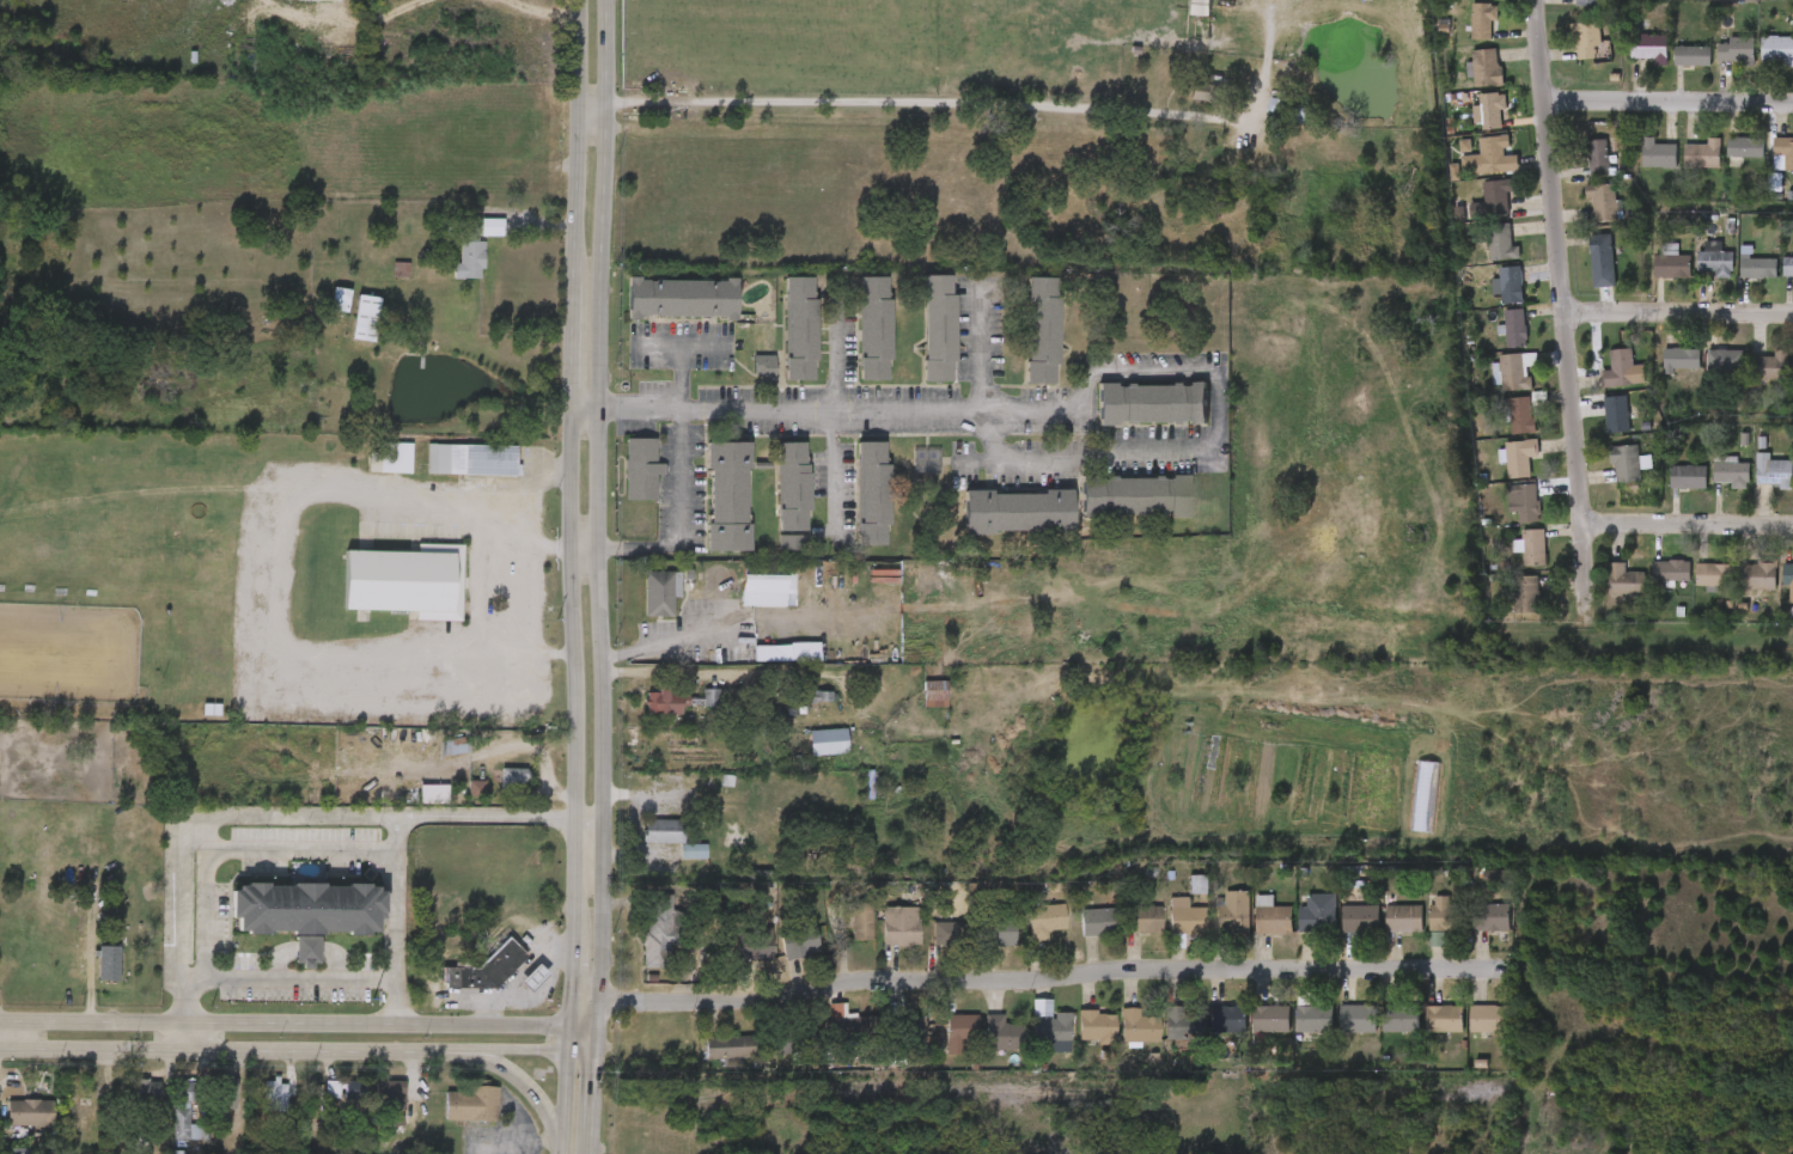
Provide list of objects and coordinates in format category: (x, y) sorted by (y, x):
building: (1586, 2)
building: (1468, 5)
building: (1567, 10)
building: (1177, 17)
building: (1481, 22)
building: (1460, 35)
building: (1585, 39)
building: (1648, 47)
building: (1776, 49)
building: (1734, 50)
building: (1565, 51)
building: (1691, 56)
building: (1629, 61)
building: (1758, 62)
building: (1716, 63)
building: (1486, 68)
building: (1789, 68)
building: (1672, 69)
building: (1464, 81)
road: (587, 102)
road: (922, 102)
road: (1667, 102)
building: (1183, 103)
building: (1490, 111)
building: (1471, 123)
building: (1744, 147)
road: (574, 149)
building: (1783, 151)
building: (1657, 154)
building: (1702, 155)
building: (1489, 158)
building: (1596, 158)
building: (1725, 160)
building: (1770, 165)
building: (1638, 167)
building: (1682, 167)
building: (1470, 170)
building: (1577, 171)
building: (1494, 196)
building: (1600, 202)
building: (1472, 213)
building: (1584, 215)
building: (1500, 242)
building: (474, 244)
building: (1481, 256)
building: (456, 258)
building: (1713, 258)
building: (1600, 260)
building: (1672, 265)
building: (1755, 265)
building: (1787, 267)
building: (1694, 273)
building: (1581, 274)
building: (1652, 280)
building: (1777, 280)
building: (1738, 281)
building: (1510, 285)
building: (339, 298)
building: (1490, 298)
building: (682, 299)
road: (1562, 300)
building: (321, 312)
road: (1678, 312)
building: (365, 316)
building: (800, 328)
building: (938, 328)
building: (1514, 328)
building: (873, 329)
building: (1042, 330)
building: (344, 331)
building: (1493, 341)
building: (780, 342)
building: (854, 342)
building: (917, 342)
building: (1023, 342)
road: (682, 346)
road: (978, 346)
road: (574, 355)
building: (1681, 360)
building: (1725, 364)
building: (763, 365)
building: (1769, 366)
building: (1618, 368)
building: (1514, 371)
building: (1660, 372)
building: (1703, 374)
building: (744, 379)
building: (1750, 380)
building: (1782, 381)
building: (1602, 383)
building: (1493, 384)
building: (1149, 403)
road: (600, 409)
road: (775, 409)
road: (833, 414)
building: (1615, 414)
building: (1520, 415)
road: (1216, 416)
building: (1596, 427)
building: (1500, 428)
building: (395, 457)
building: (1518, 458)
building: (470, 459)
building: (1624, 463)
building: (641, 468)
building: (1499, 470)
building: (371, 471)
building: (1771, 471)
building: (452, 472)
building: (1731, 474)
building: (1606, 476)
building: (1688, 477)
building: (622, 482)
building: (1710, 484)
building: (1754, 484)
building: (1667, 490)
building: (793, 493)
building: (872, 493)
building: (727, 494)
building: (1135, 495)
road: (681, 499)
building: (773, 499)
building: (1526, 502)
building: (852, 505)
building: (708, 508)
building: (1018, 509)
building: (1507, 515)
road: (1689, 521)
building: (167, 545)
building: (1533, 548)
building: (770, 554)
building: (1511, 560)
building: (1670, 569)
building: (1787, 573)
building: (1713, 574)
building: (1757, 576)
building: (1623, 580)
building: (1651, 584)
building: (766, 585)
building: (1693, 587)
building: (1739, 590)
building: (661, 592)
building: (1776, 592)
building: (1603, 593)
building: (386, 594)
building: (1527, 596)
road: (270, 598)
building: (748, 603)
building: (641, 605)
building: (1507, 607)
road: (574, 613)
road: (545, 649)
building: (183, 654)
building: (772, 665)
building: (934, 692)
building: (914, 706)
building: (800, 708)
building: (691, 710)
building: (647, 715)
building: (191, 722)
building: (828, 740)
building: (807, 755)
building: (435, 758)
building: (494, 790)
building: (457, 801)
road: (263, 816)
road: (587, 818)
building: (676, 836)
building: (644, 843)
road: (228, 850)
building: (672, 863)
building: (738, 887)
building: (1177, 897)
building: (307, 906)
building: (1317, 912)
building: (1231, 914)
building: (1446, 914)
building: (1185, 916)
building: (1271, 916)
building: (1490, 916)
building: (1403, 917)
building: (1044, 918)
building: (1144, 918)
building: (1360, 918)
building: (860, 920)
building: (1098, 921)
road: (396, 922)
road: (599, 924)
building: (899, 924)
building: (1212, 926)
building: (1298, 926)
building: (1420, 926)
building: (657, 928)
building: (1165, 929)
building: (1251, 929)
building: (996, 930)
building: (1471, 930)
building: (951, 932)
building: (1123, 932)
building: (1340, 932)
building: (1383, 932)
building: (841, 933)
building: (1025, 934)
building: (1078, 934)
road: (573, 938)
building: (880, 939)
building: (800, 941)
building: (639, 942)
building: (752, 942)
building: (927, 946)
building: (981, 947)
building: (731, 957)
building: (780, 957)
building: (109, 963)
building: (287, 963)
building: (486, 967)
building: (89, 976)
building: (532, 976)
road: (1035, 979)
road: (299, 981)
building: (513, 989)
building: (1358, 1016)
building: (1313, 1018)
building: (1227, 1019)
building: (1270, 1019)
building: (1402, 1019)
building: (1445, 1019)
building: (1488, 1019)
building: (1182, 1024)
building: (1096, 1025)
building: (1139, 1025)
building: (850, 1026)
road: (297, 1027)
building: (911, 1028)
building: (822, 1030)
building: (962, 1030)
building: (1206, 1031)
building: (1250, 1031)
building: (1334, 1031)
building: (1423, 1031)
building: (1464, 1031)
building: (1051, 1032)
building: (1293, 1032)
building: (1382, 1032)
building: (1002, 1033)
building: (1157, 1036)
road: (14, 1039)
building: (1031, 1039)
building: (1077, 1039)
building: (1118, 1039)
building: (792, 1040)
building: (898, 1042)
building: (941, 1044)
building: (728, 1046)
building: (983, 1046)
road: (297, 1056)
building: (709, 1060)
building: (761, 1060)
building: (333, 1089)
building: (355, 1089)
building: (150, 1092)
building: (226, 1093)
road: (590, 1093)
road: (527, 1094)
building: (394, 1095)
building: (128, 1101)
building: (336, 1101)
building: (471, 1104)
building: (209, 1105)
building: (371, 1105)
road: (566, 1105)
building: (30, 1113)
building: (185, 1113)
building: (452, 1117)
building: (17, 1125)
building: (166, 1128)

